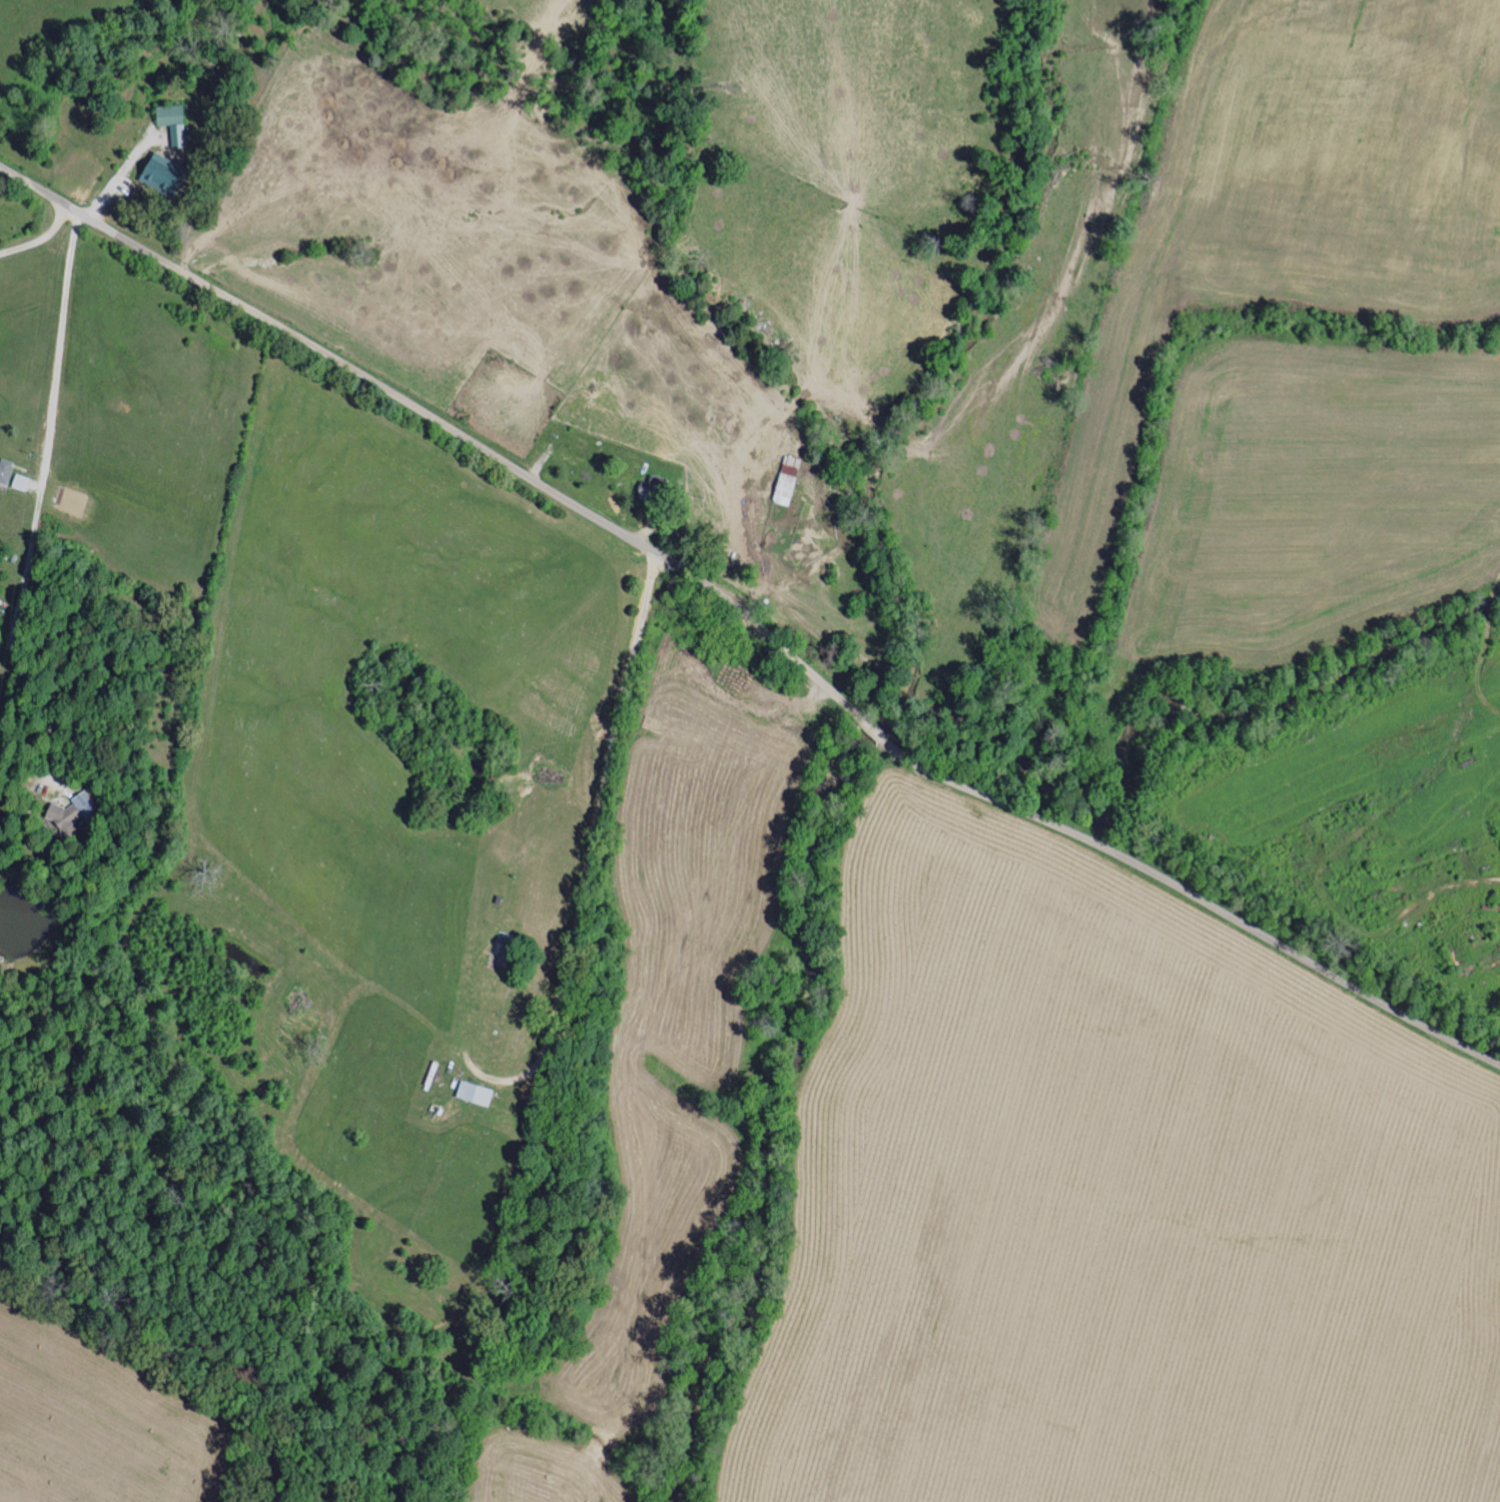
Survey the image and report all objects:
road: (43, 243)
building: (7, 471)
building: (789, 481)
building: (22, 483)
road: (39, 504)
road: (751, 620)
building: (74, 816)
road: (592, 843)
building: (477, 1092)

